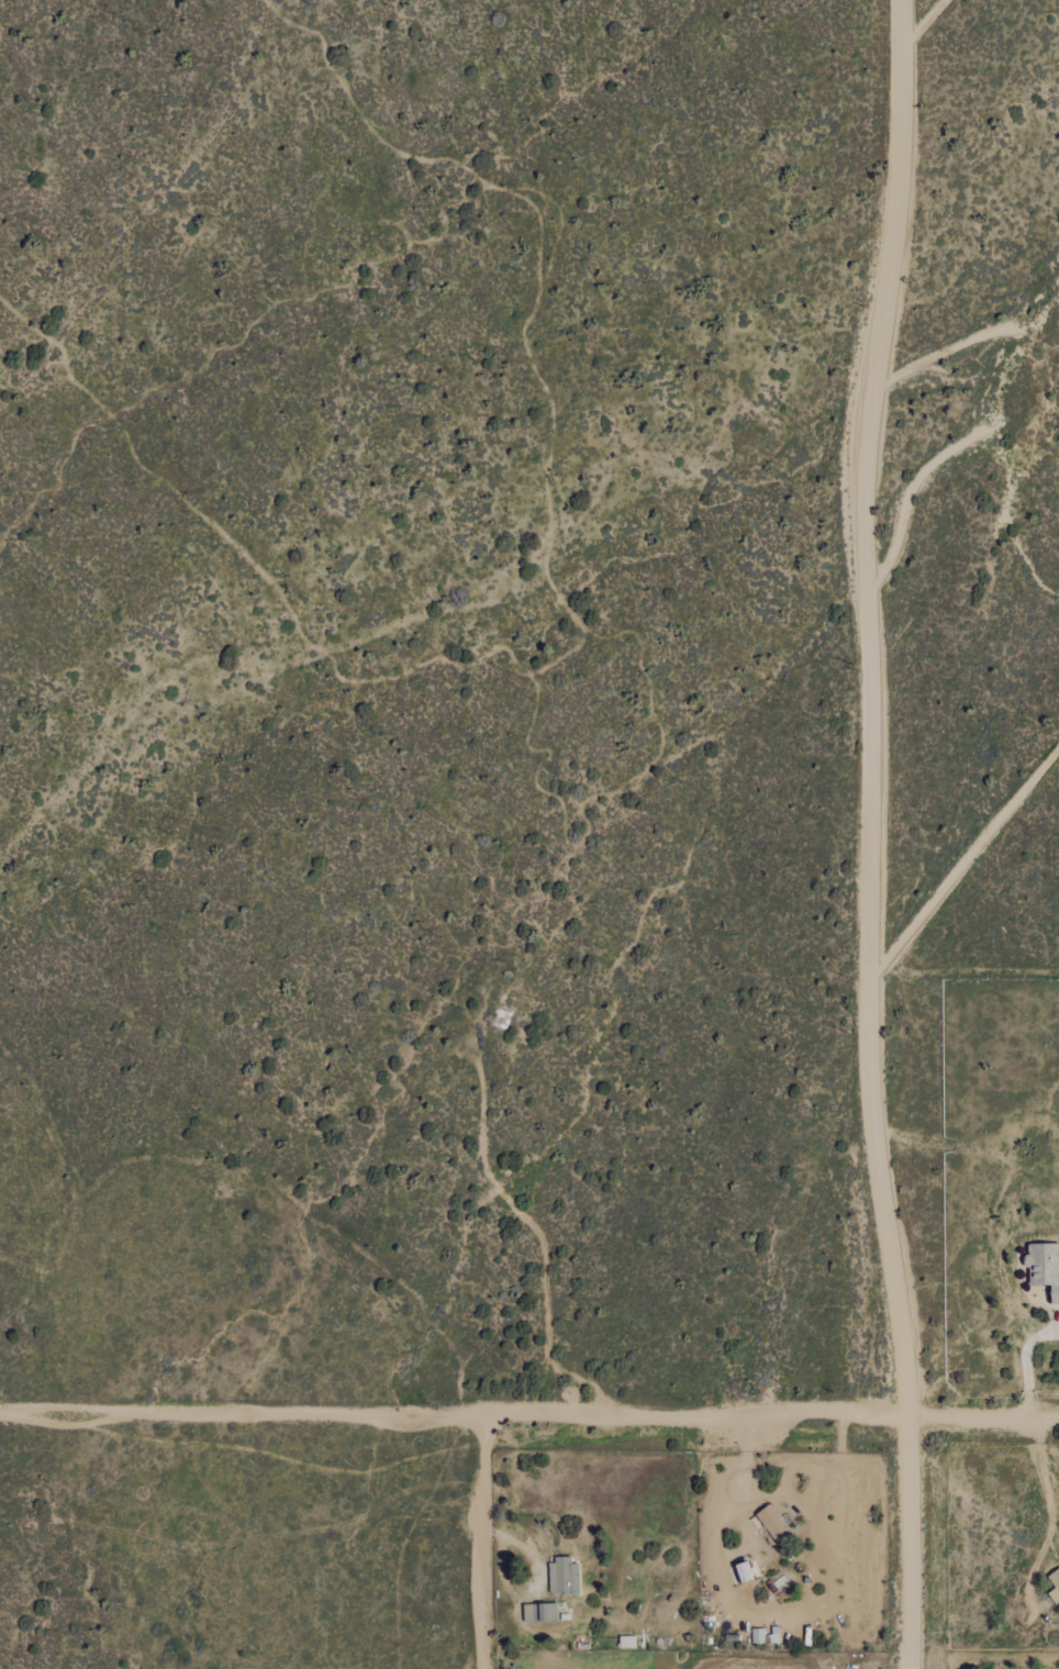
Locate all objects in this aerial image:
road: (871, 833)
building: (1044, 1267)
road: (1025, 1362)
road: (529, 1413)
road: (1049, 1475)
road: (484, 1542)
building: (564, 1576)
building: (1054, 1585)
building: (538, 1612)
building: (757, 1636)

